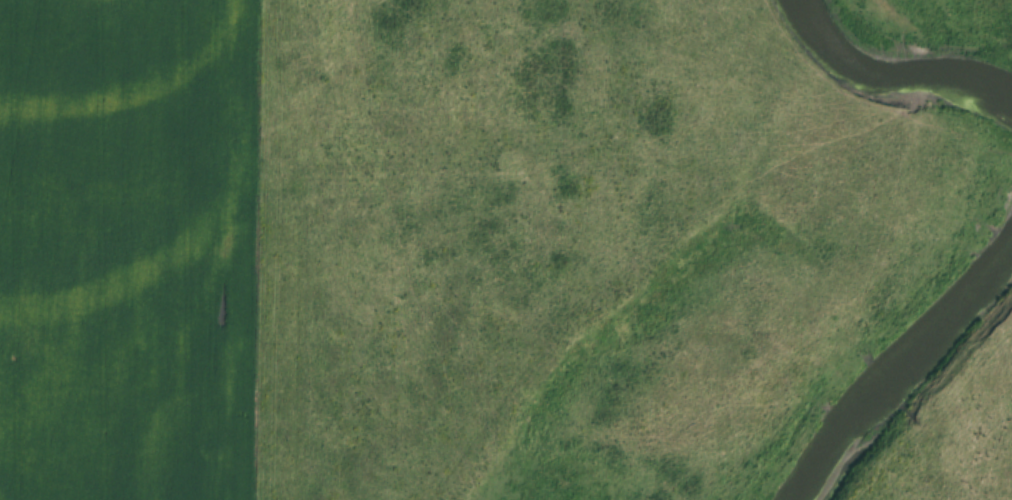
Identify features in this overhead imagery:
river: (895, 67)
river: (903, 369)

